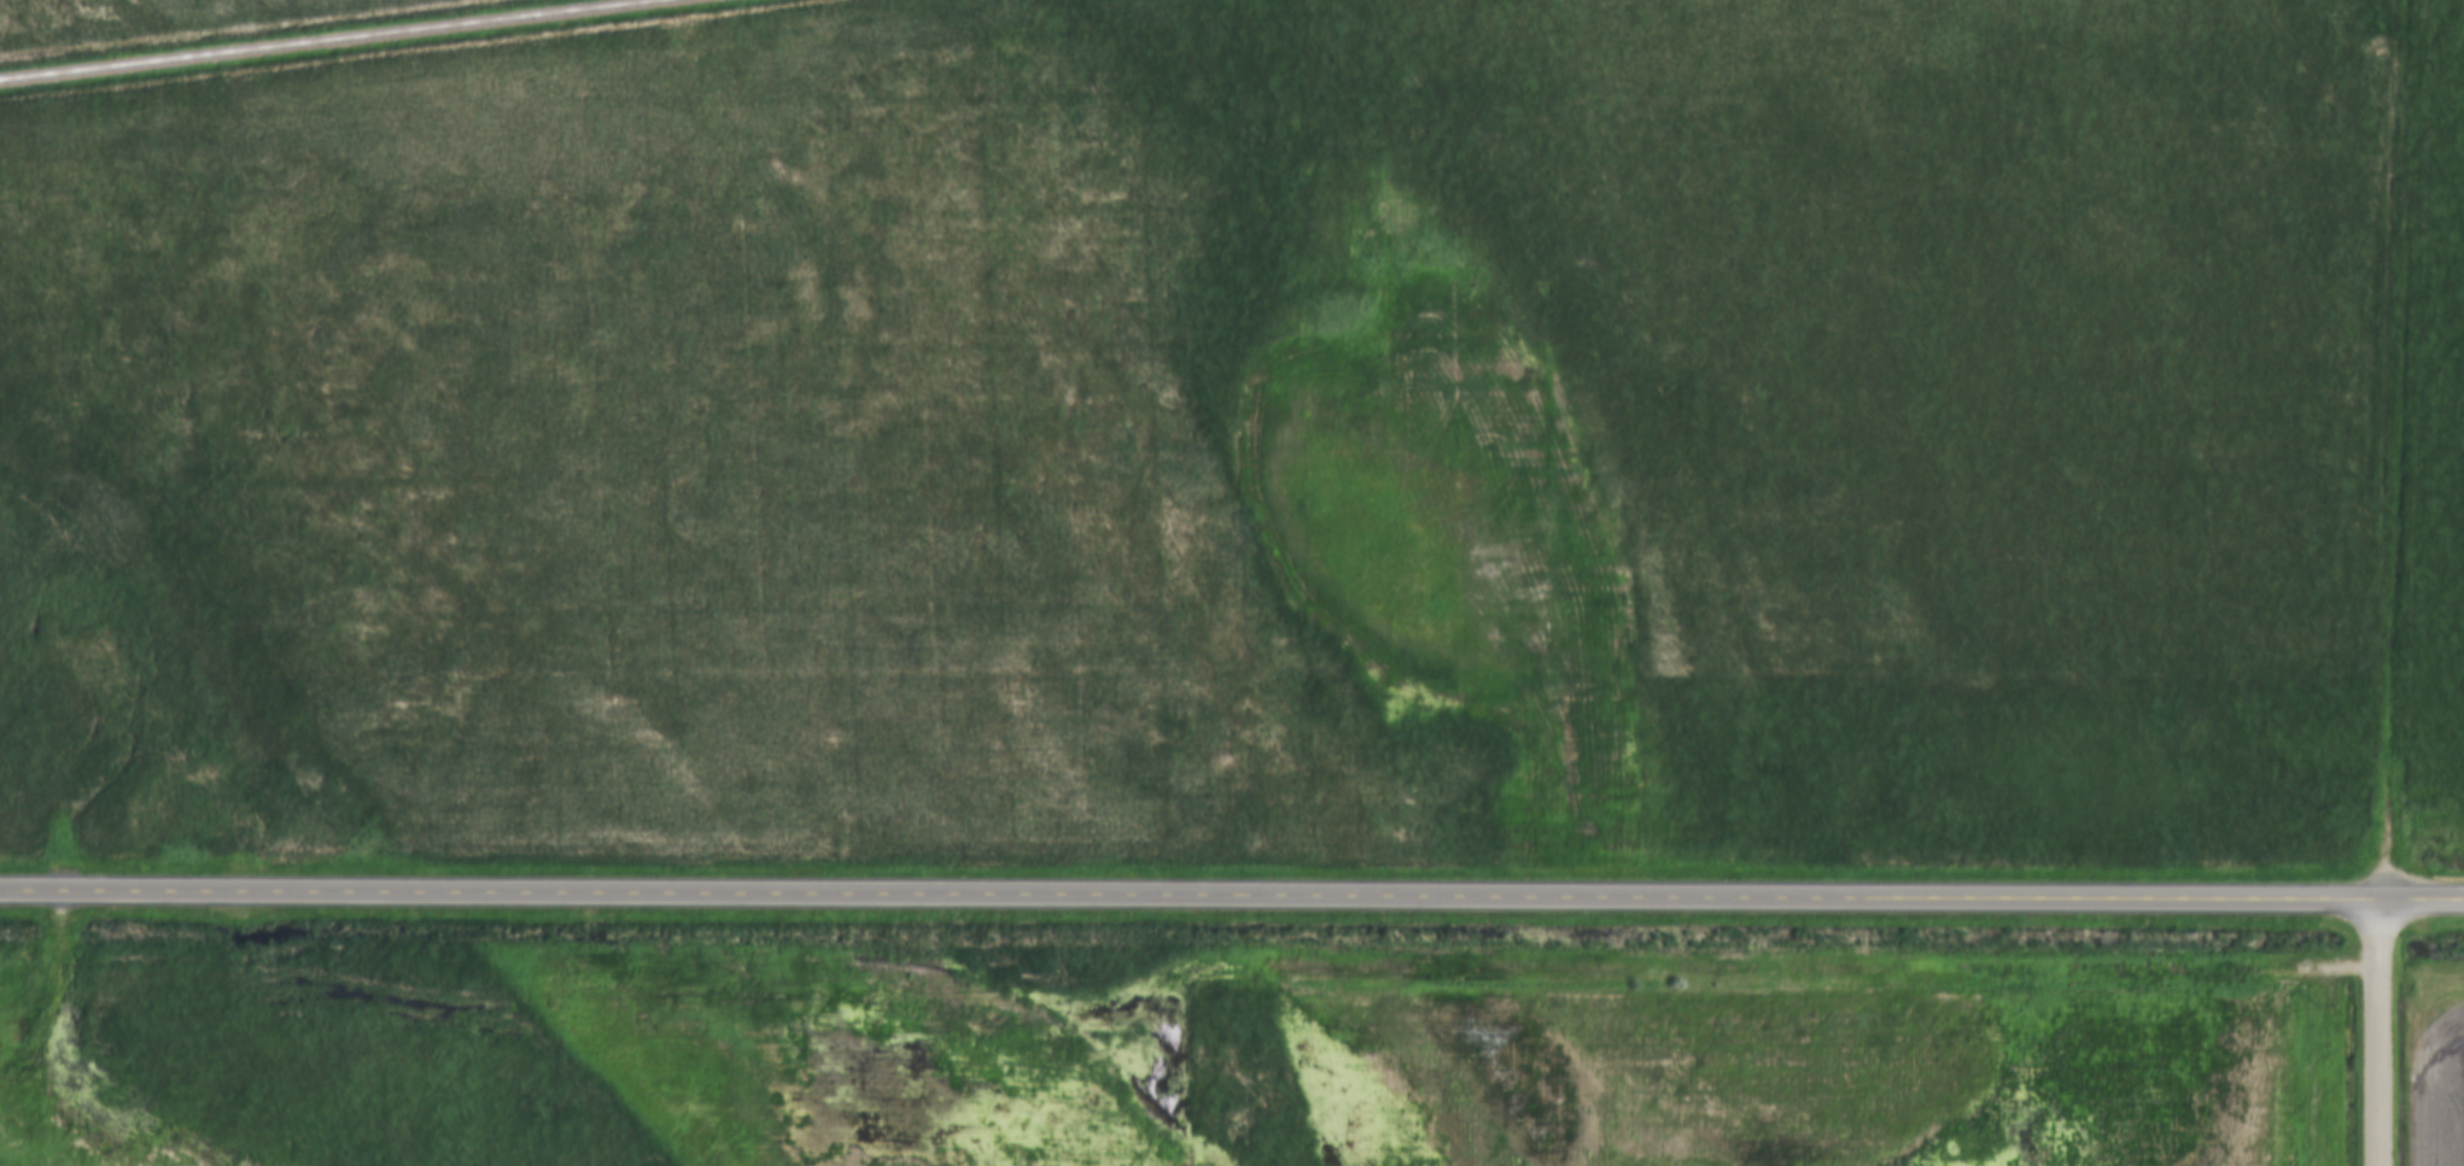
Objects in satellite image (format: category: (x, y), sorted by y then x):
railway: (327, 40)
road: (2398, 451)
road: (1231, 896)
road: (2381, 1035)

